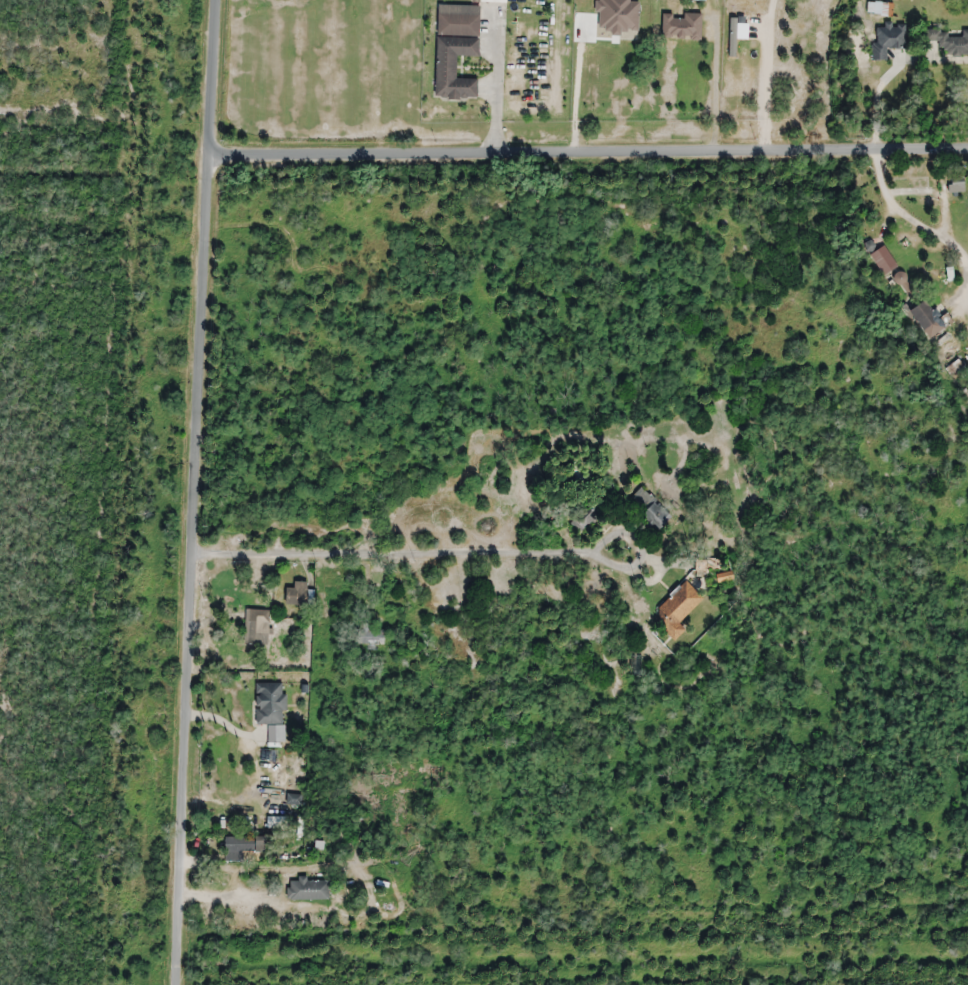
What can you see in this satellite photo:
building: (879, 9)
building: (681, 26)
building: (887, 40)
building: (948, 42)
building: (455, 47)
road: (221, 76)
road: (593, 148)
building: (955, 187)
building: (880, 258)
building: (922, 316)
building: (650, 509)
building: (584, 522)
road: (402, 552)
road: (198, 568)
building: (297, 594)
building: (676, 610)
building: (257, 627)
building: (370, 637)
road: (632, 650)
building: (270, 703)
building: (243, 849)
building: (307, 889)

